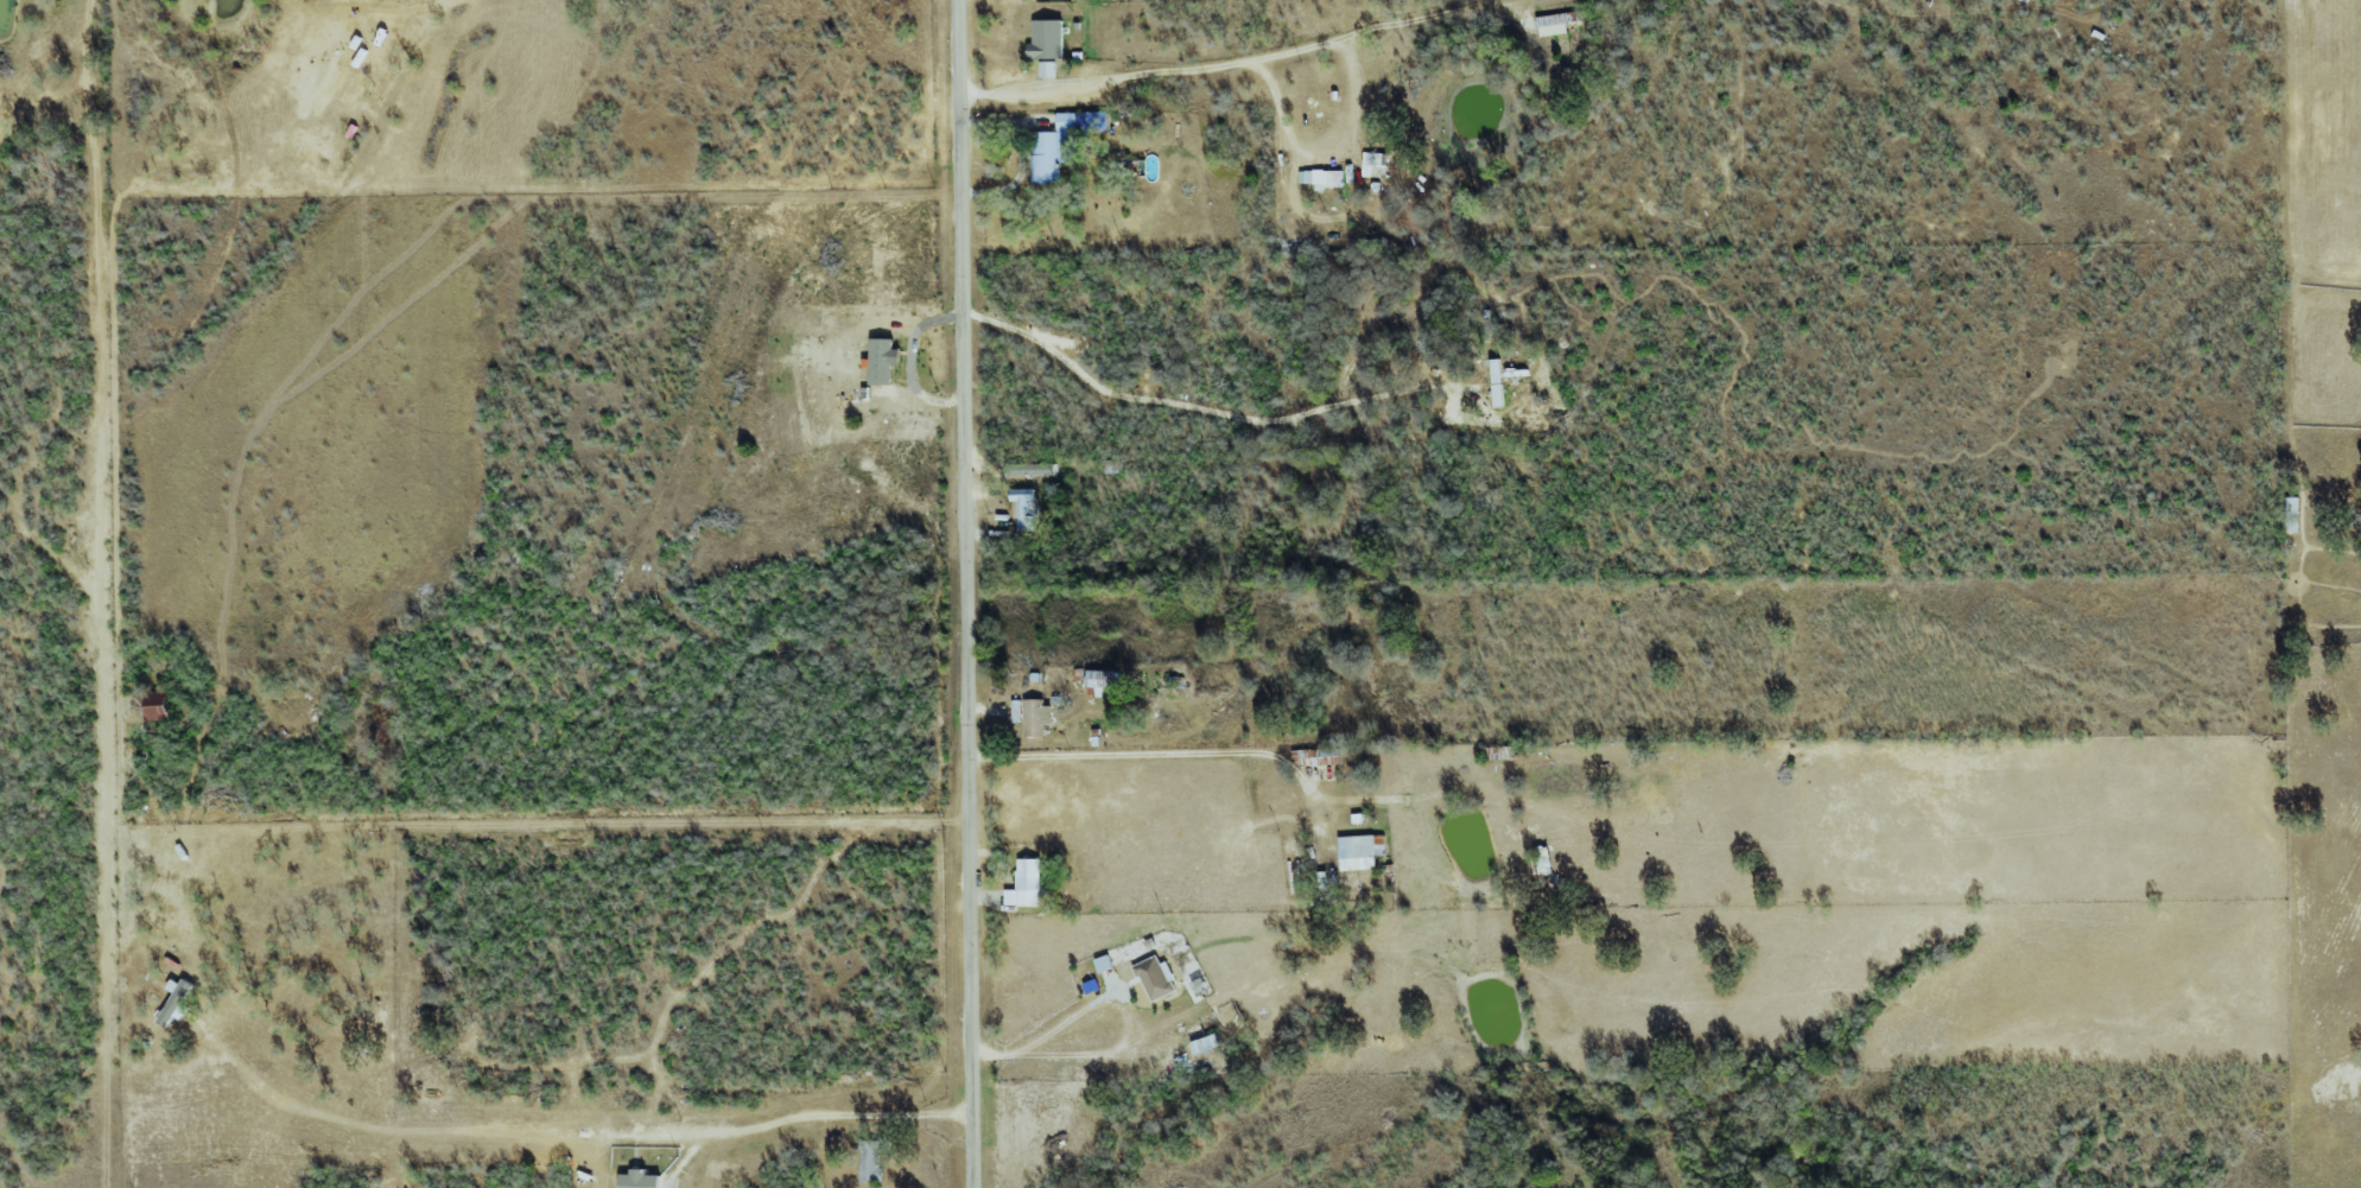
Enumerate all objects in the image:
building: (1559, 21)
building: (1048, 38)
road: (1240, 63)
building: (1049, 68)
building: (1062, 142)
road: (1329, 154)
building: (1322, 177)
building: (883, 361)
building: (1517, 373)
building: (1499, 382)
road: (1210, 411)
building: (1032, 469)
building: (1028, 509)
building: (2292, 514)
road: (966, 593)
building: (160, 706)
building: (1018, 710)
building: (1039, 717)
road: (1159, 747)
building: (1318, 756)
building: (1363, 851)
building: (1029, 883)
building: (1106, 963)
building: (1157, 978)
building: (178, 1000)
road: (1048, 1031)
building: (1205, 1038)
road: (843, 1112)
road: (446, 1124)
building: (871, 1160)
building: (642, 1180)

